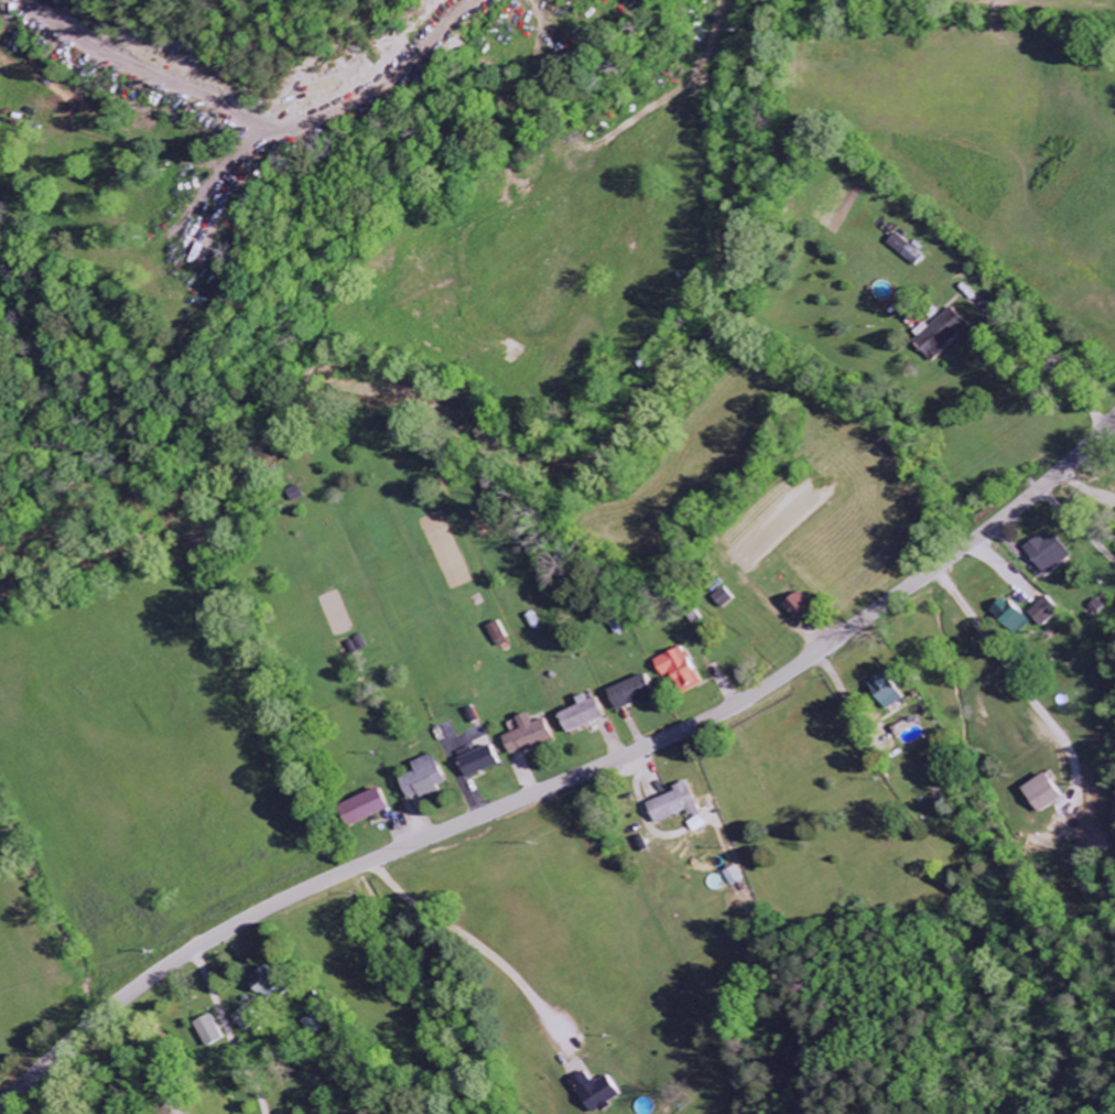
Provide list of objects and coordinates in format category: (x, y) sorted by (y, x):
building: (905, 250)
building: (940, 335)
road: (1075, 528)
building: (1043, 554)
building: (721, 598)
building: (1039, 613)
building: (1006, 617)
building: (676, 670)
building: (627, 693)
building: (883, 694)
building: (580, 715)
building: (523, 736)
building: (475, 760)
road: (569, 778)
building: (421, 779)
building: (1038, 793)
building: (669, 805)
building: (360, 808)
building: (729, 876)
road: (475, 943)
building: (262, 983)
building: (204, 1031)
road: (220, 1035)
building: (596, 1092)

